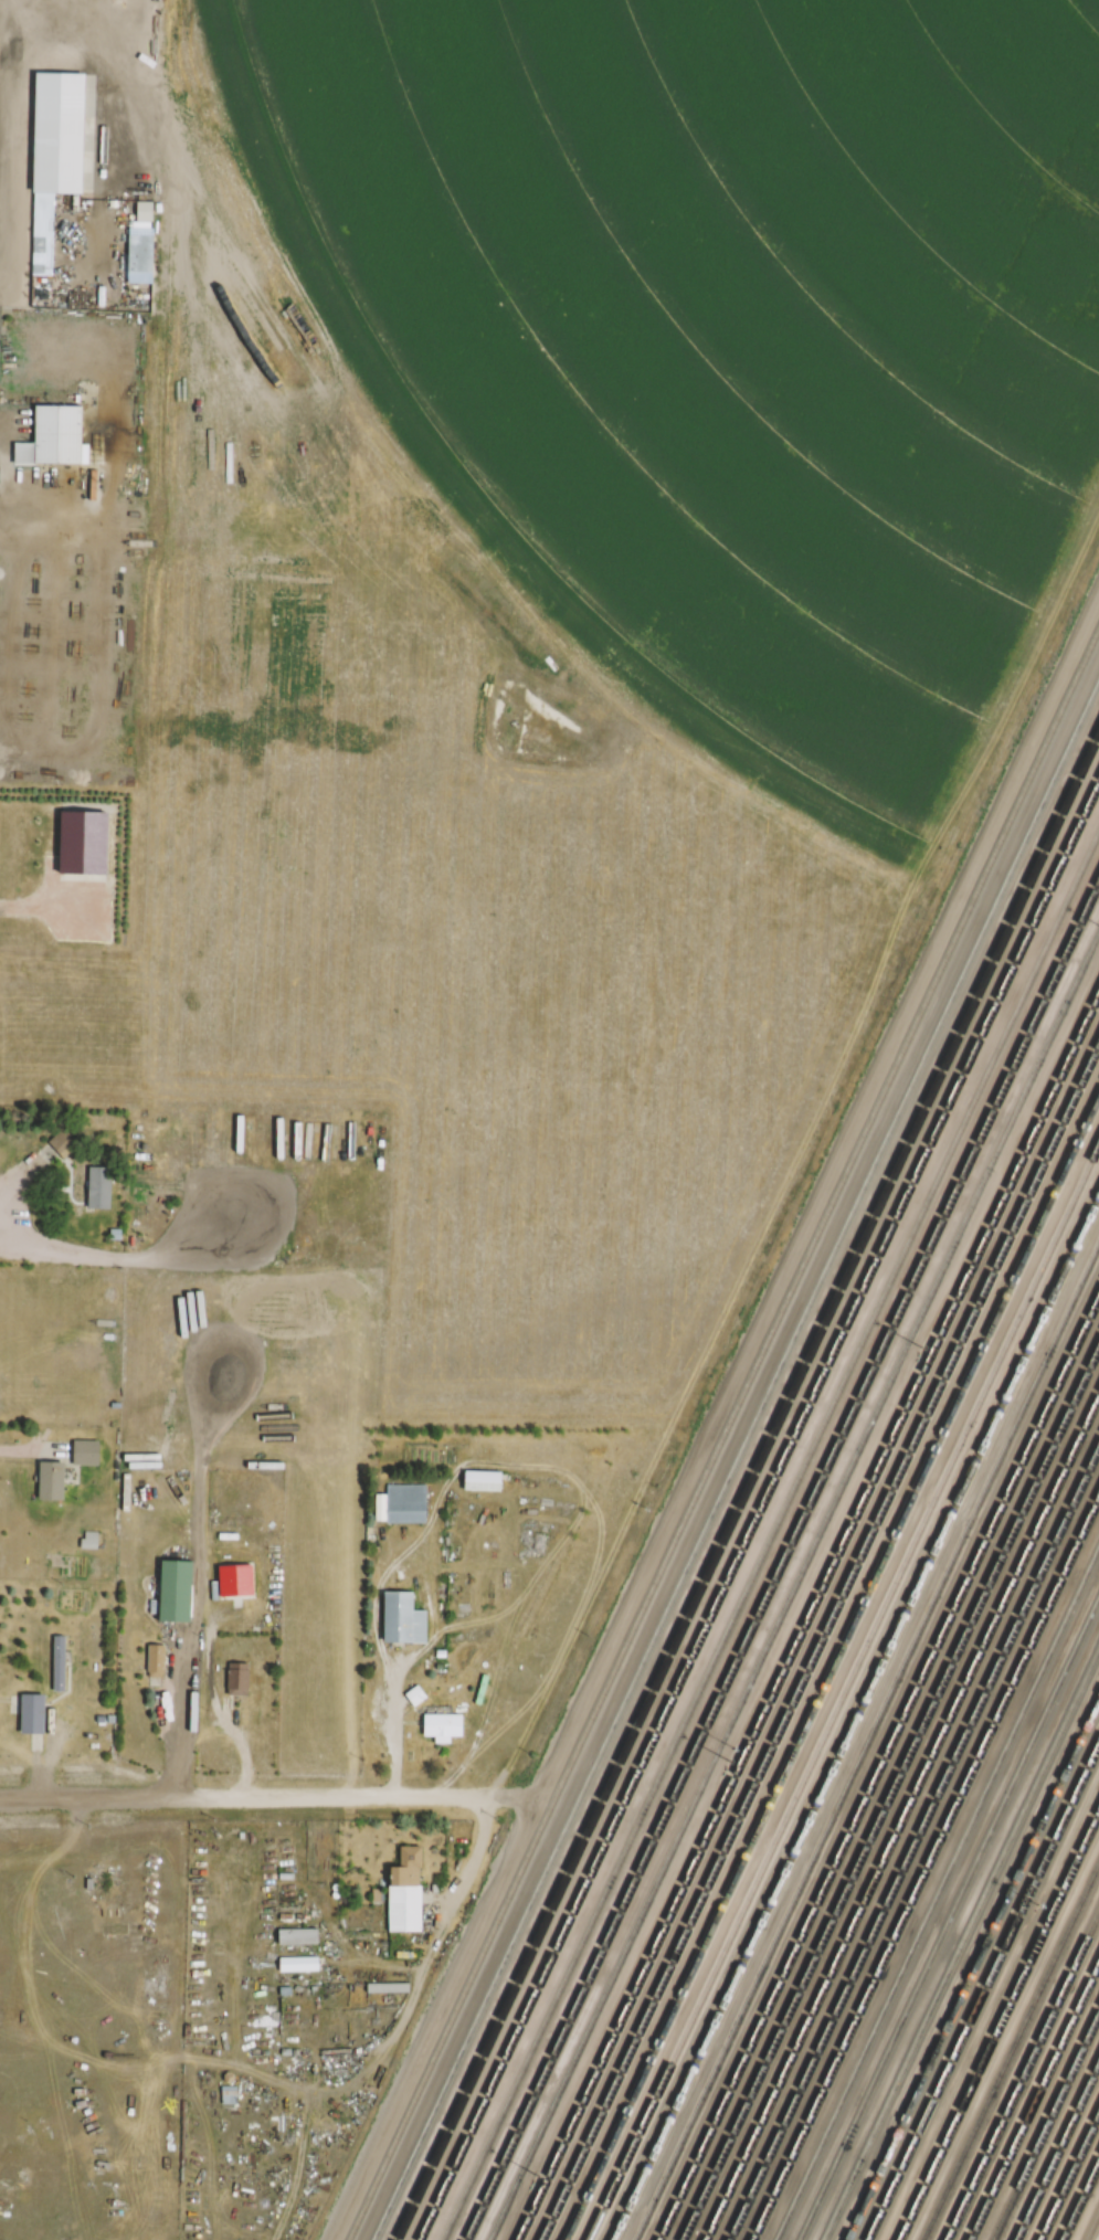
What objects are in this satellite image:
building: (57, 146)
building: (54, 436)
building: (894, 1092)
building: (62, 1142)
road: (28, 1184)
building: (80, 1188)
road: (815, 1190)
railway: (726, 1437)
road: (24, 1451)
building: (87, 1451)
railway: (737, 1465)
building: (53, 1479)
building: (483, 1480)
railway: (746, 1484)
building: (402, 1503)
railway: (759, 1509)
building: (1092, 1526)
railway: (770, 1532)
railway: (781, 1556)
railway: (794, 1584)
building: (176, 1589)
railway: (807, 1613)
building: (404, 1617)
railway: (820, 1639)
building: (156, 1660)
building: (57, 1662)
railway: (832, 1665)
building: (239, 1678)
railway: (842, 1689)
building: (416, 1694)
building: (33, 1712)
railway: (855, 1718)
road: (395, 1722)
building: (444, 1725)
railway: (865, 1740)
railway: (878, 1767)
railway: (889, 1790)
road: (241, 1796)
road: (507, 1796)
railway: (901, 1817)
railway: (913, 1841)
railway: (926, 1868)
building: (408, 1891)
railway: (937, 1892)
railway: (949, 1917)
building: (299, 1936)
railway: (960, 1941)
building: (299, 1964)
railway: (972, 1966)
railway: (981, 1987)
road: (431, 2018)
railway: (998, 2022)
building: (1067, 2028)
road: (391, 2031)
railway: (1011, 2051)
railway: (1022, 2077)
building: (229, 2095)
railway: (1035, 2103)
railway: (1046, 2126)
railway: (1057, 2151)
railway: (1068, 2175)
railway: (1079, 2198)
railway: (1091, 2225)

